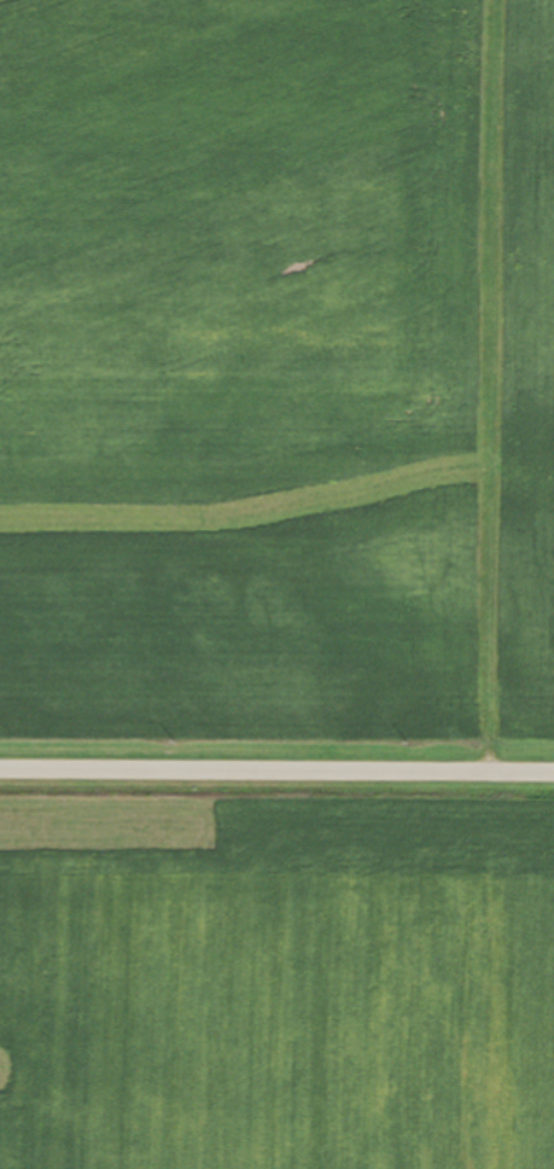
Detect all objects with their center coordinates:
road: (276, 772)

